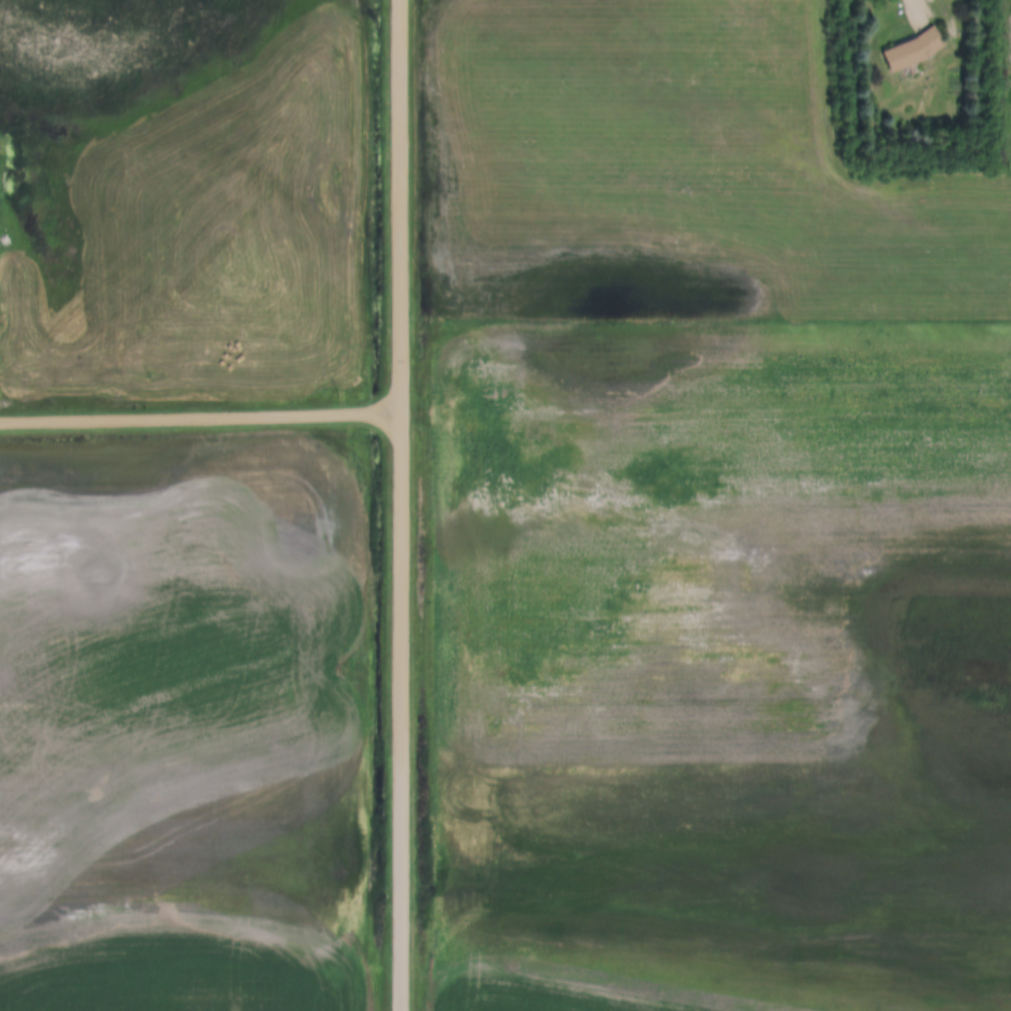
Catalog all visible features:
building: (908, 52)
road: (198, 416)
road: (397, 505)
crop: (723, 666)

